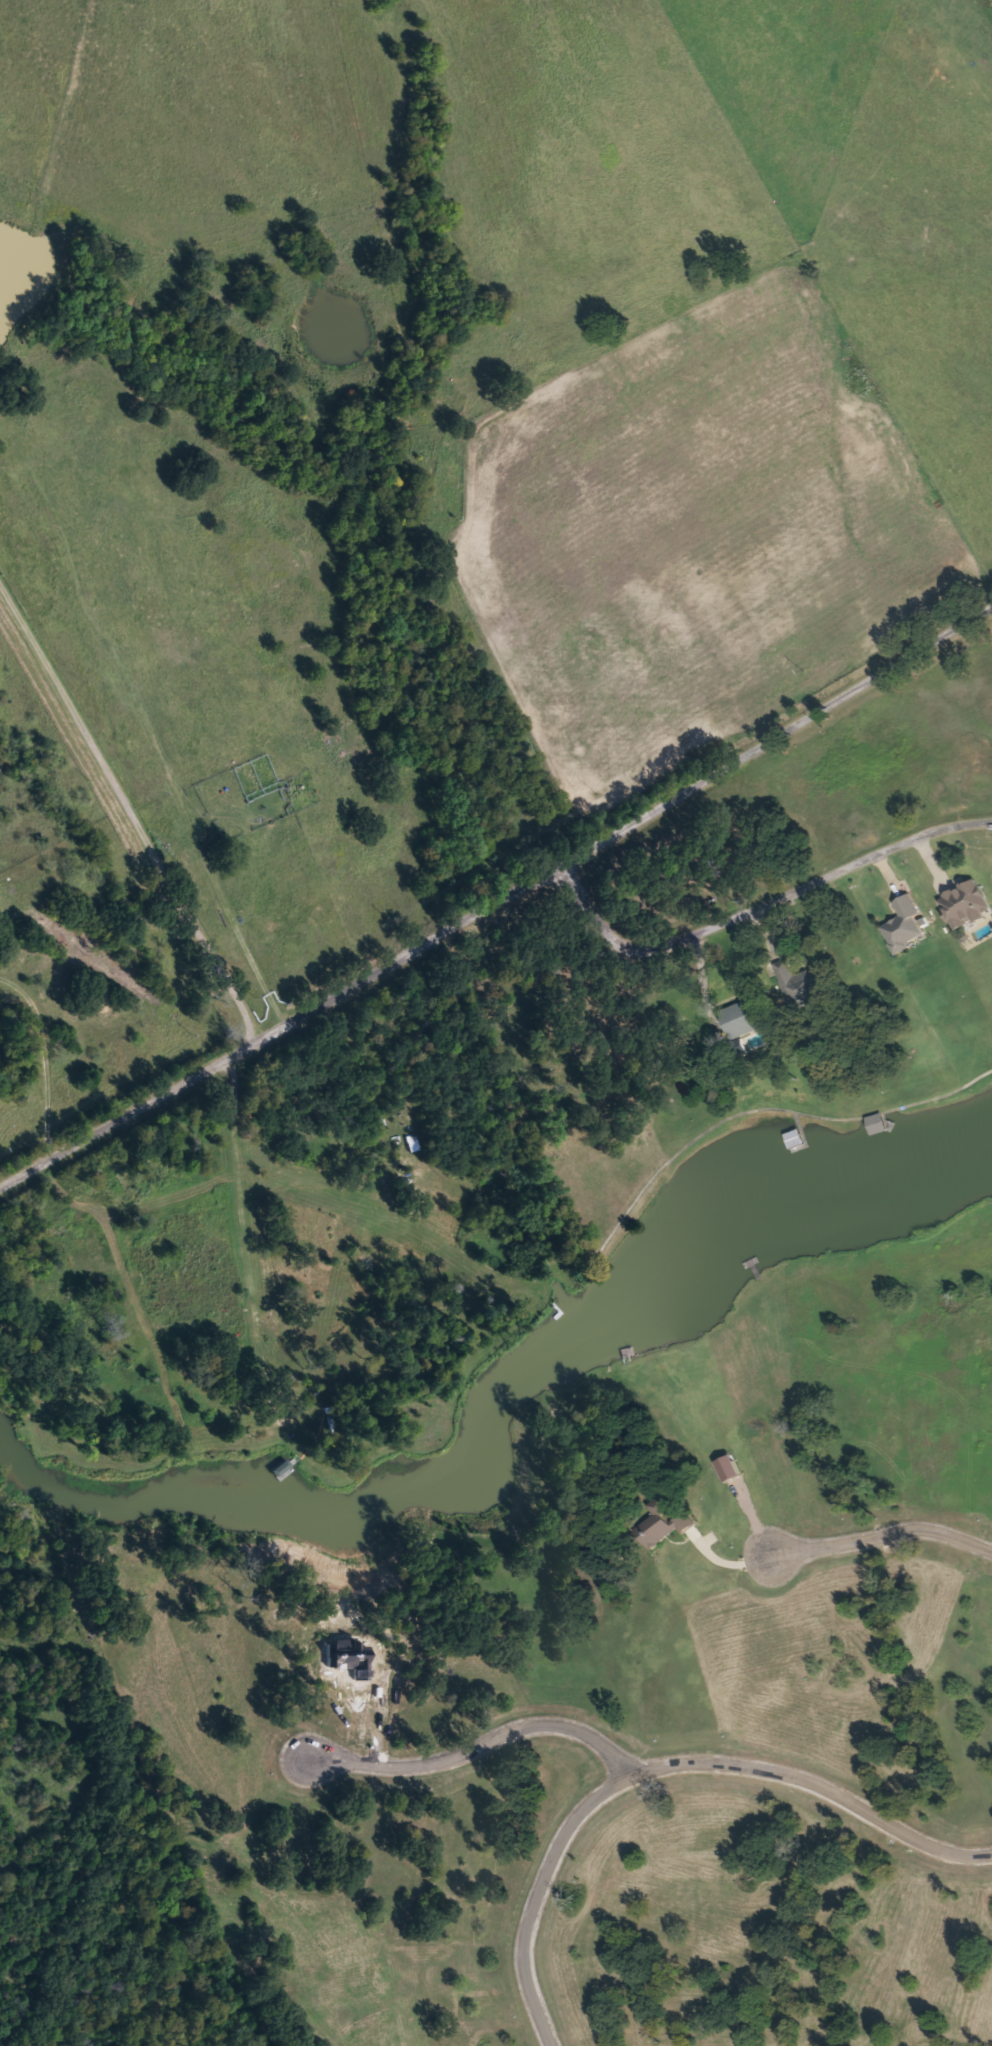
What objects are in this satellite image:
road: (936, 57)
road: (148, 733)
road: (130, 815)
road: (816, 880)
road: (499, 902)
building: (966, 905)
road: (597, 911)
building: (904, 926)
building: (803, 980)
building: (745, 1017)
building: (880, 1124)
building: (797, 1139)
building: (666, 1523)
road: (880, 1535)
road: (478, 1745)
road: (664, 1767)

